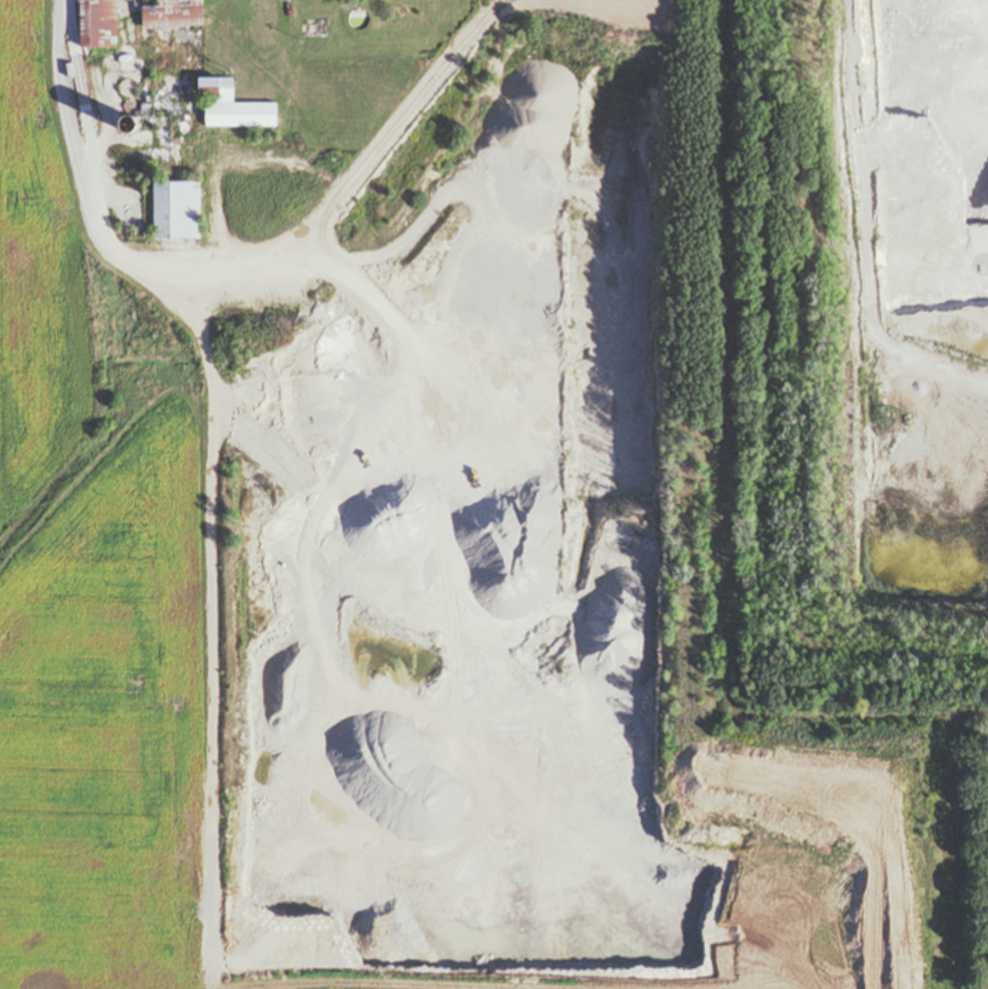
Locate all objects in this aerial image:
building: (173, 12)
building: (361, 18)
building: (100, 23)
building: (82, 78)
building: (128, 86)
building: (235, 104)
building: (134, 107)
building: (129, 124)
road: (80, 195)
building: (178, 208)
quarry: (919, 299)
road: (792, 300)
quarry: (454, 451)

